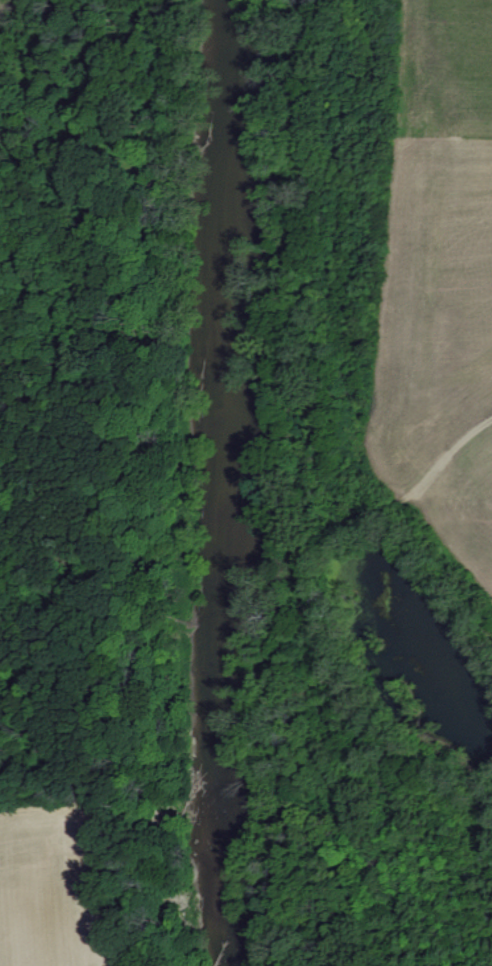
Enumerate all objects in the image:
road: (474, 430)
river: (214, 483)

